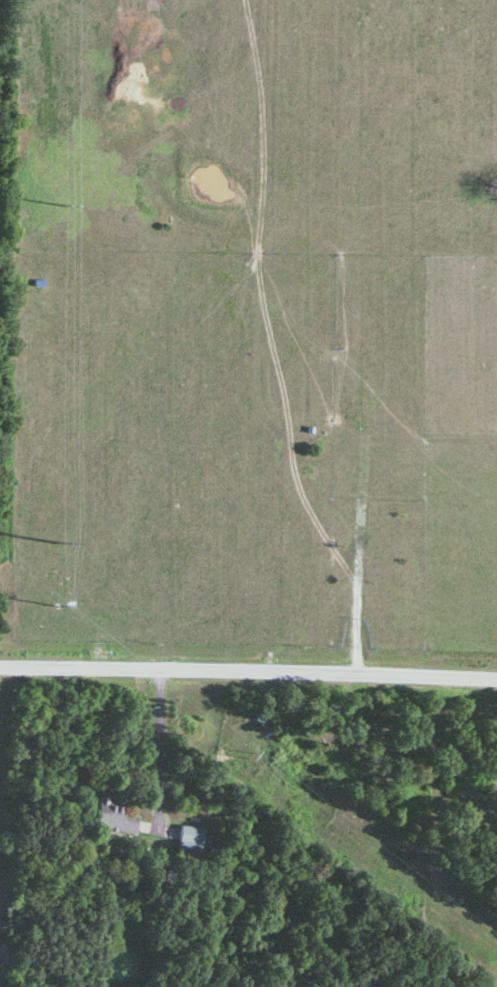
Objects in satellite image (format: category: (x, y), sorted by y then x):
road: (248, 676)
road: (154, 751)
building: (113, 818)
building: (190, 841)

